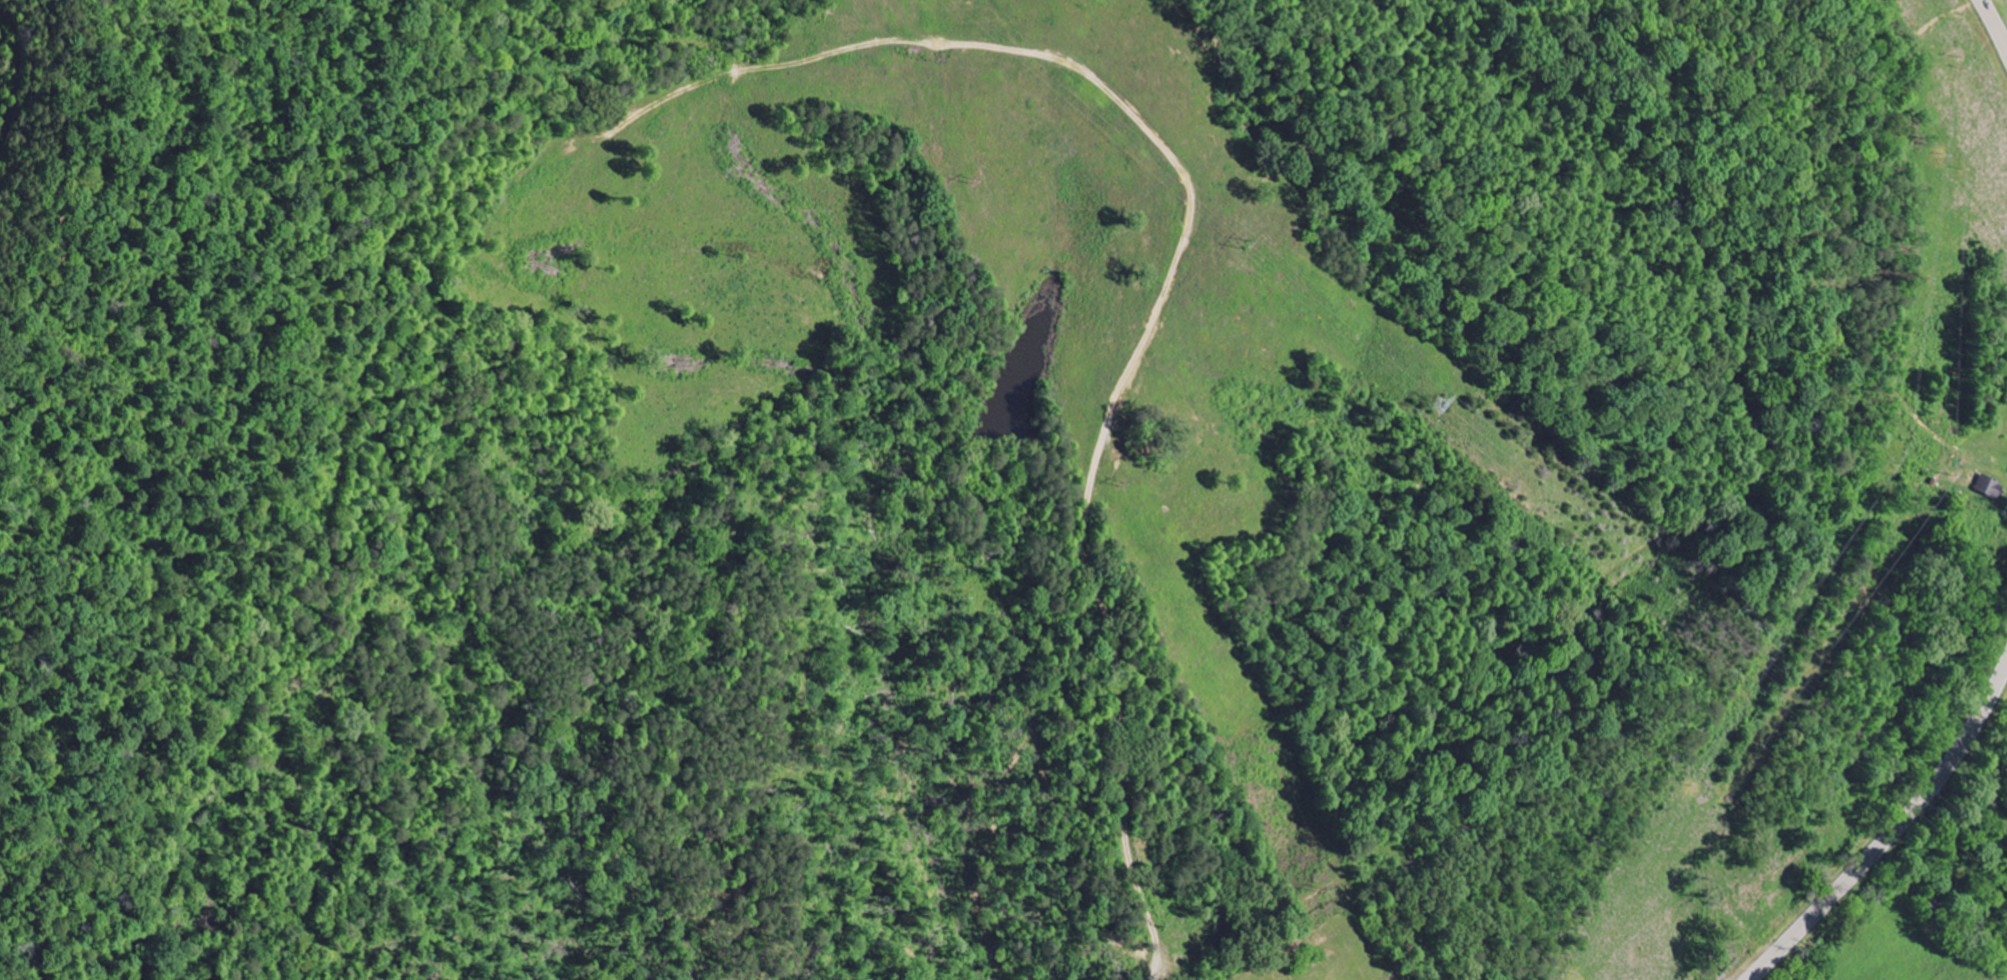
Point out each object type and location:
road: (1995, 22)
power tower: (1431, 405)
road: (1117, 411)
road: (1892, 831)
park: (1292, 951)

